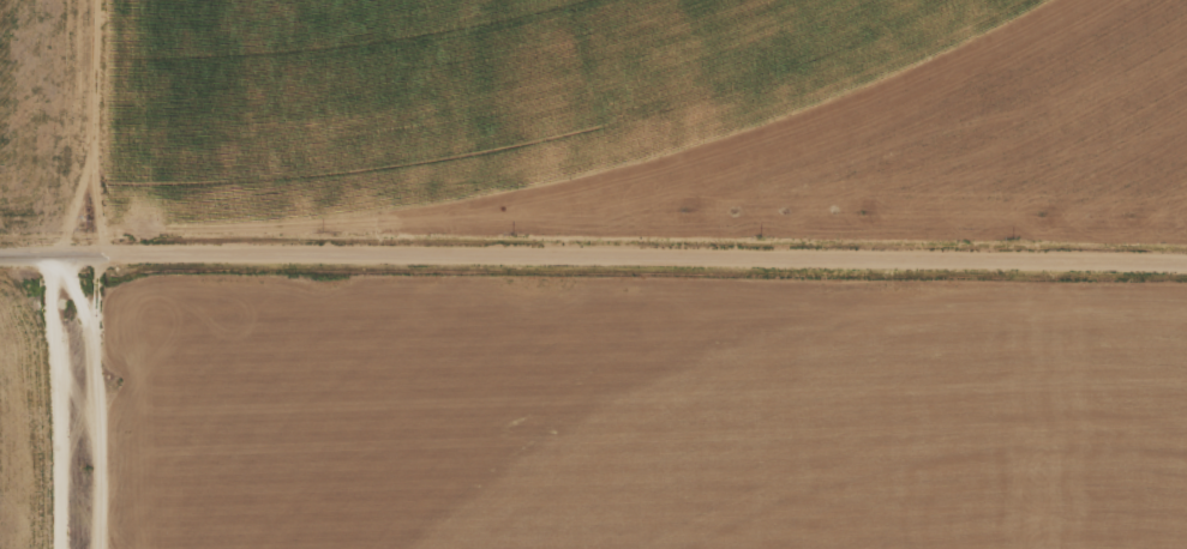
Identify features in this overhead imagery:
road: (85, 137)
road: (593, 272)
road: (49, 411)

